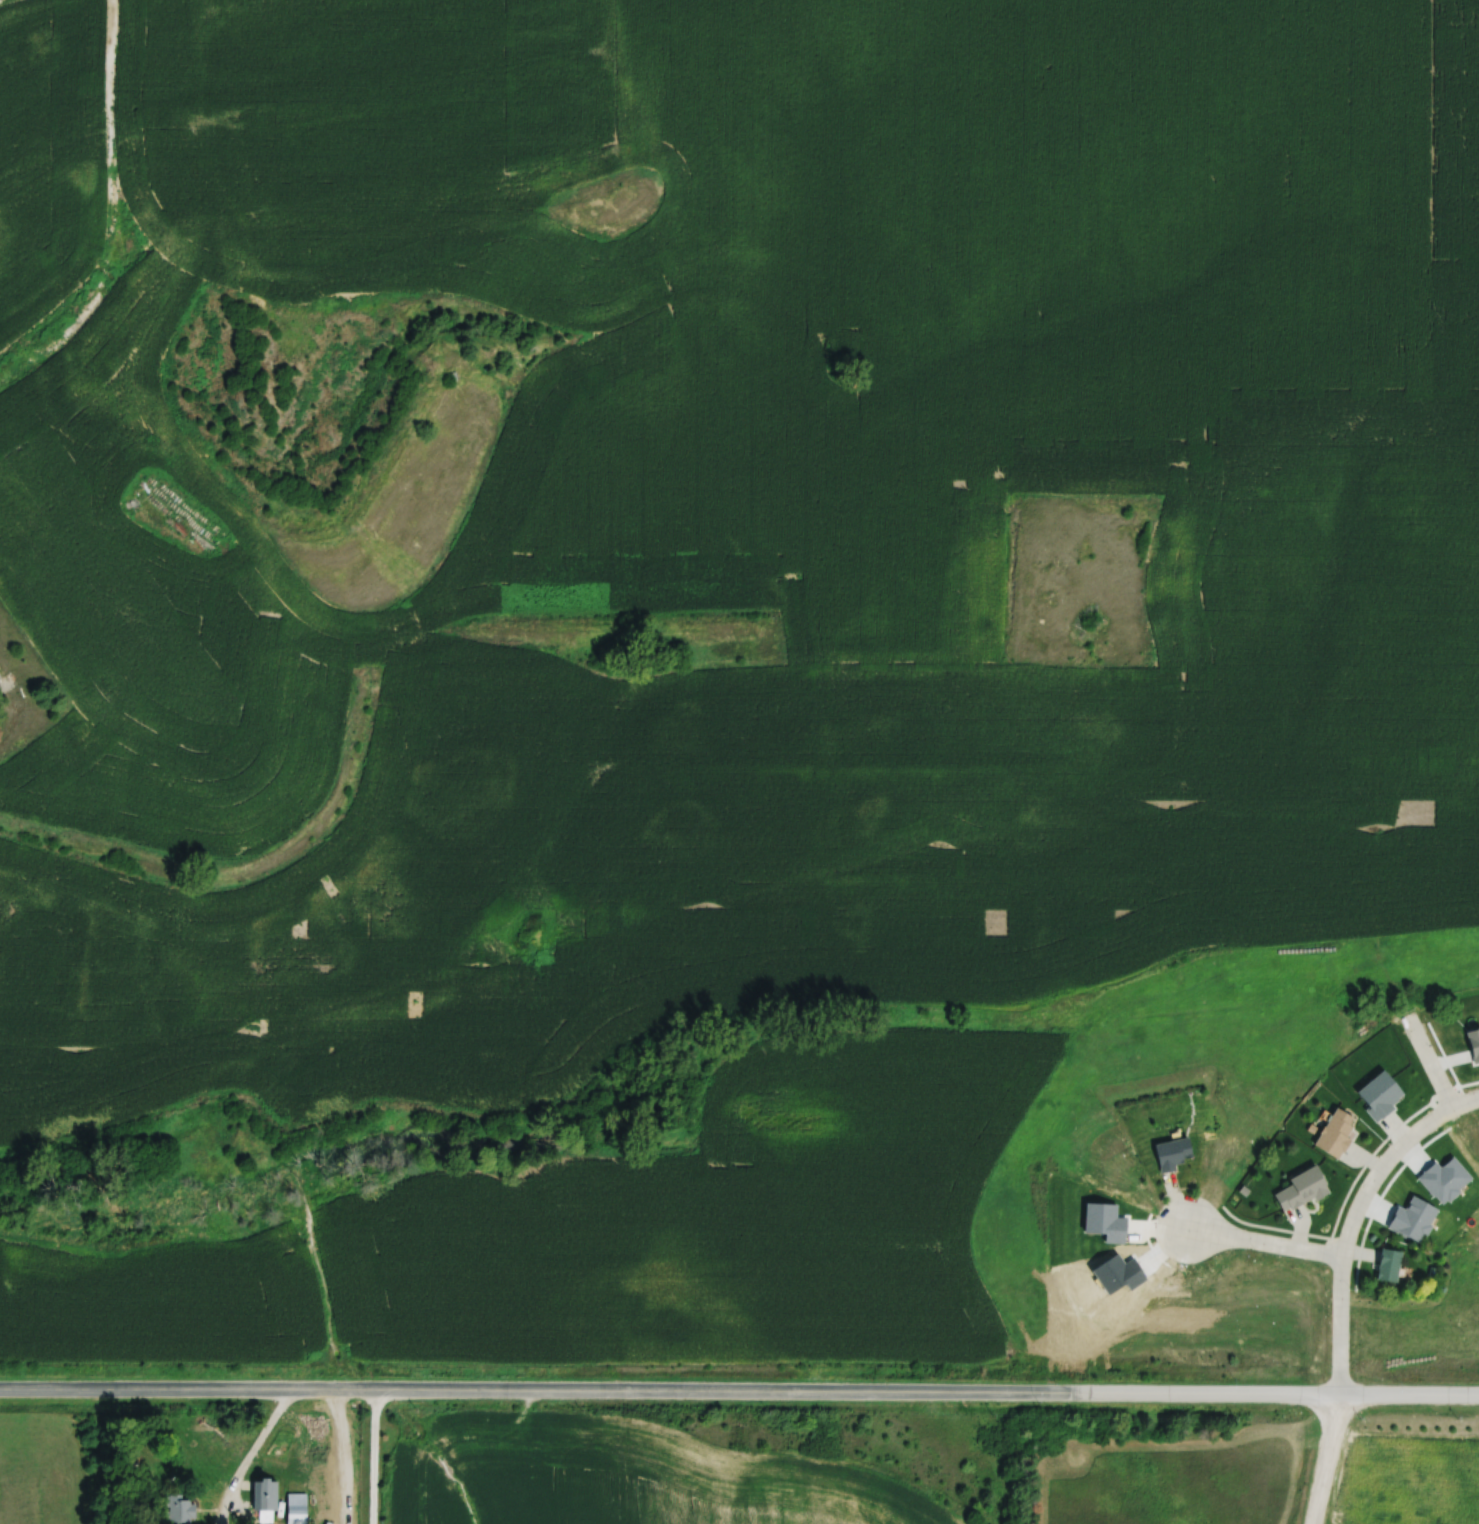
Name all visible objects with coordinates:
road: (110, 155)
building: (0, 676)
road: (9, 721)
road: (1436, 1066)
building: (1337, 1135)
building: (1174, 1154)
building: (1302, 1190)
road: (1358, 1222)
road: (1270, 1246)
building: (1390, 1266)
road: (739, 1393)
road: (257, 1439)
road: (369, 1458)
road: (1329, 1460)
building: (267, 1498)
building: (181, 1508)
building: (298, 1508)

